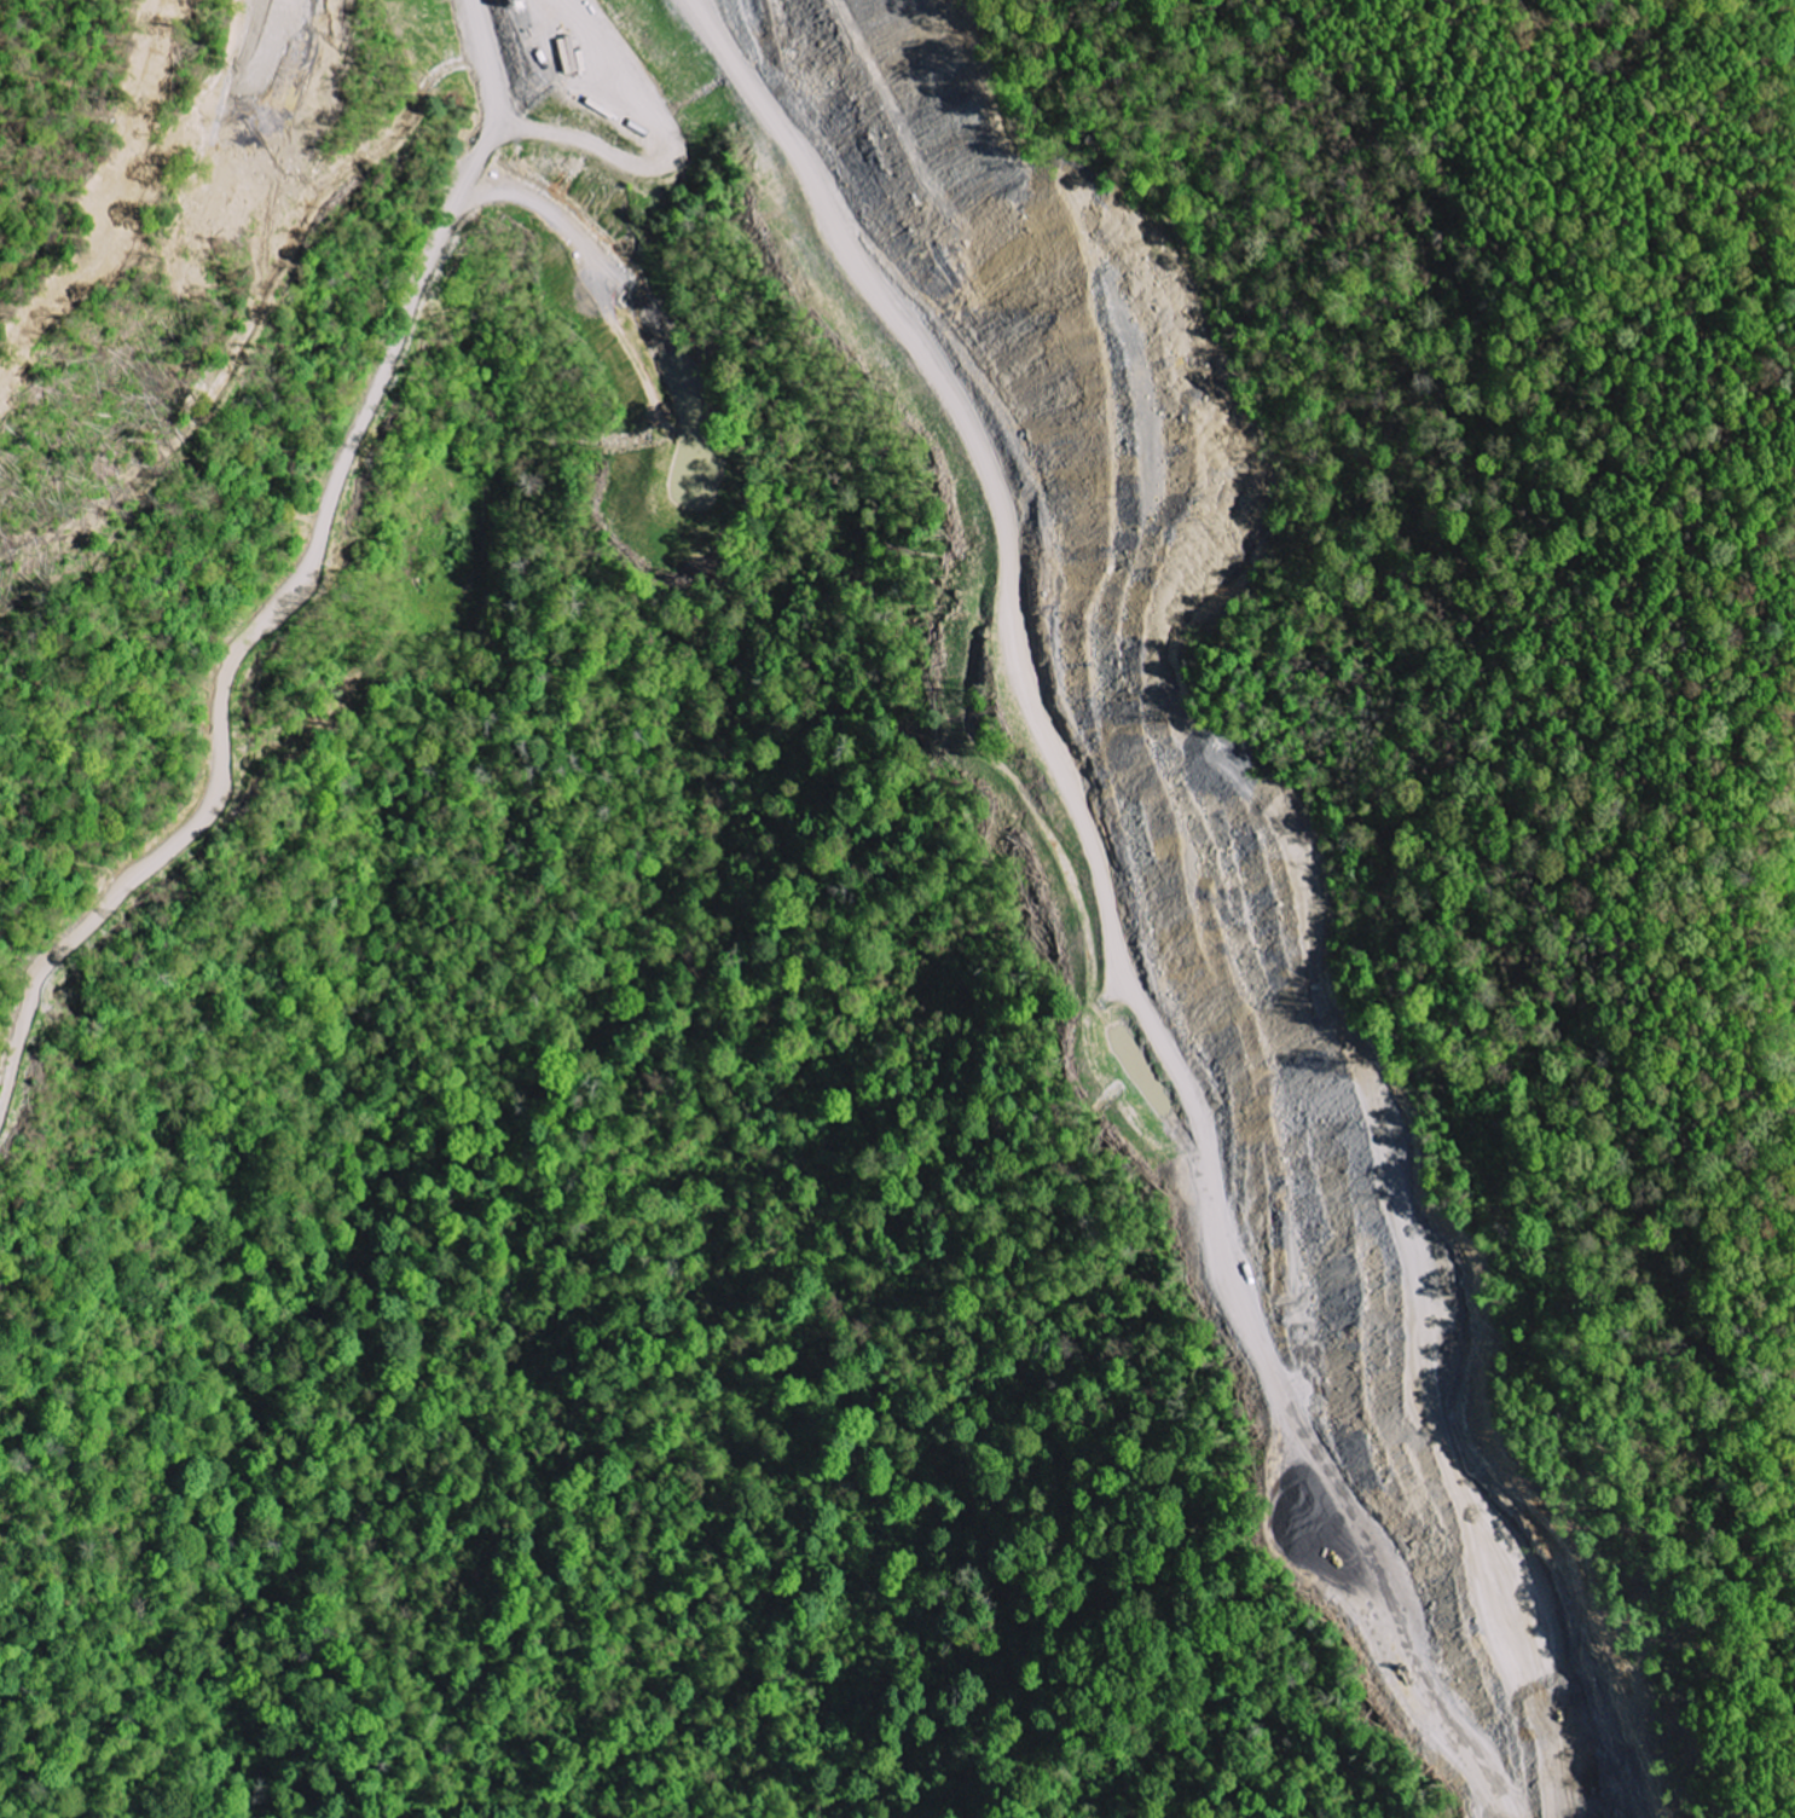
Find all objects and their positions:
road: (897, 17)
road: (349, 613)

